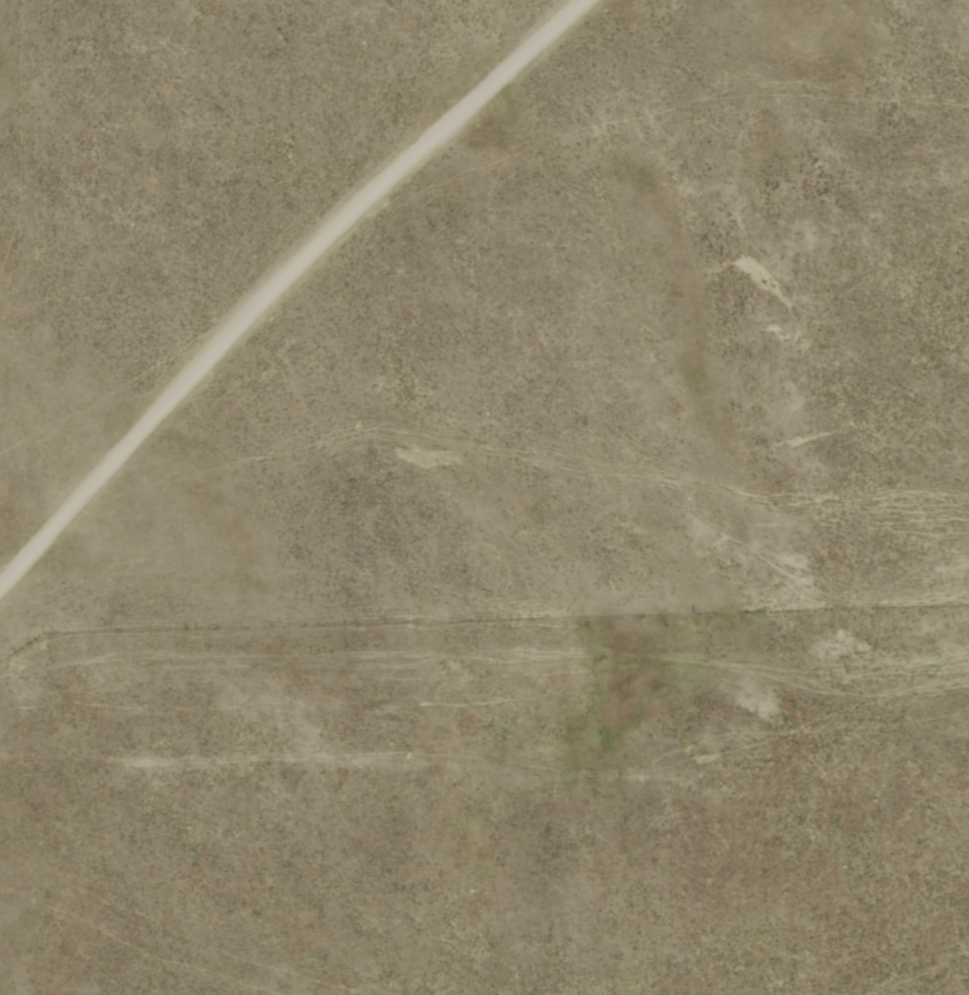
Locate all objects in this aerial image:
road: (280, 282)

